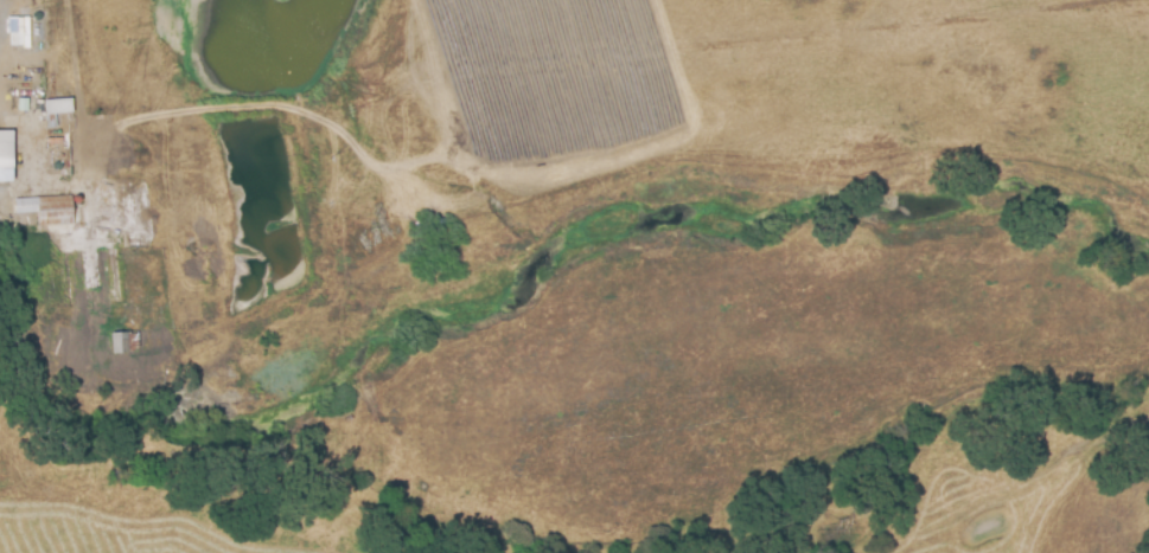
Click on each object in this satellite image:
building: (60, 115)
building: (7, 156)
building: (51, 214)
building: (121, 341)
building: (129, 354)

